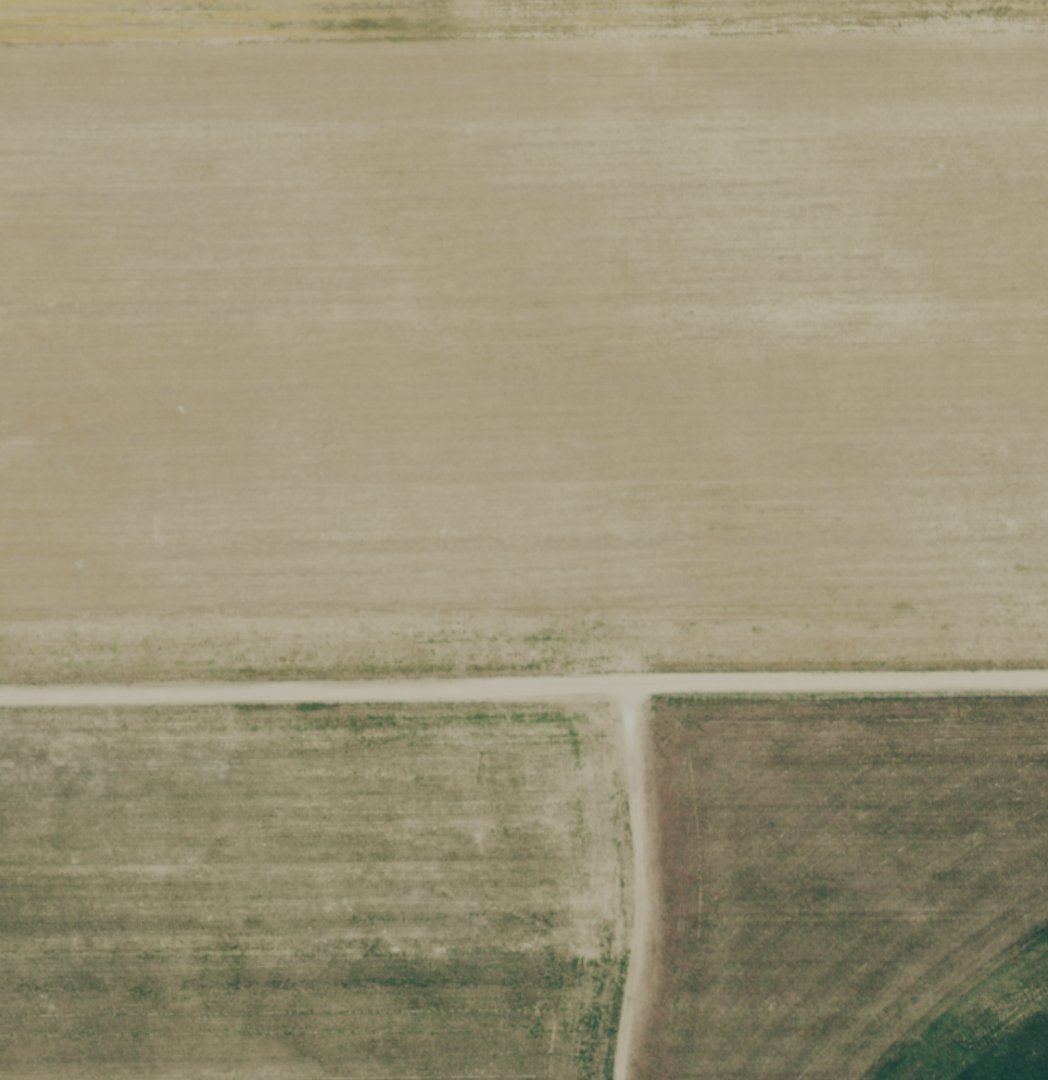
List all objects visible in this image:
crop: (522, 331)
road: (523, 687)
crop: (527, 892)

